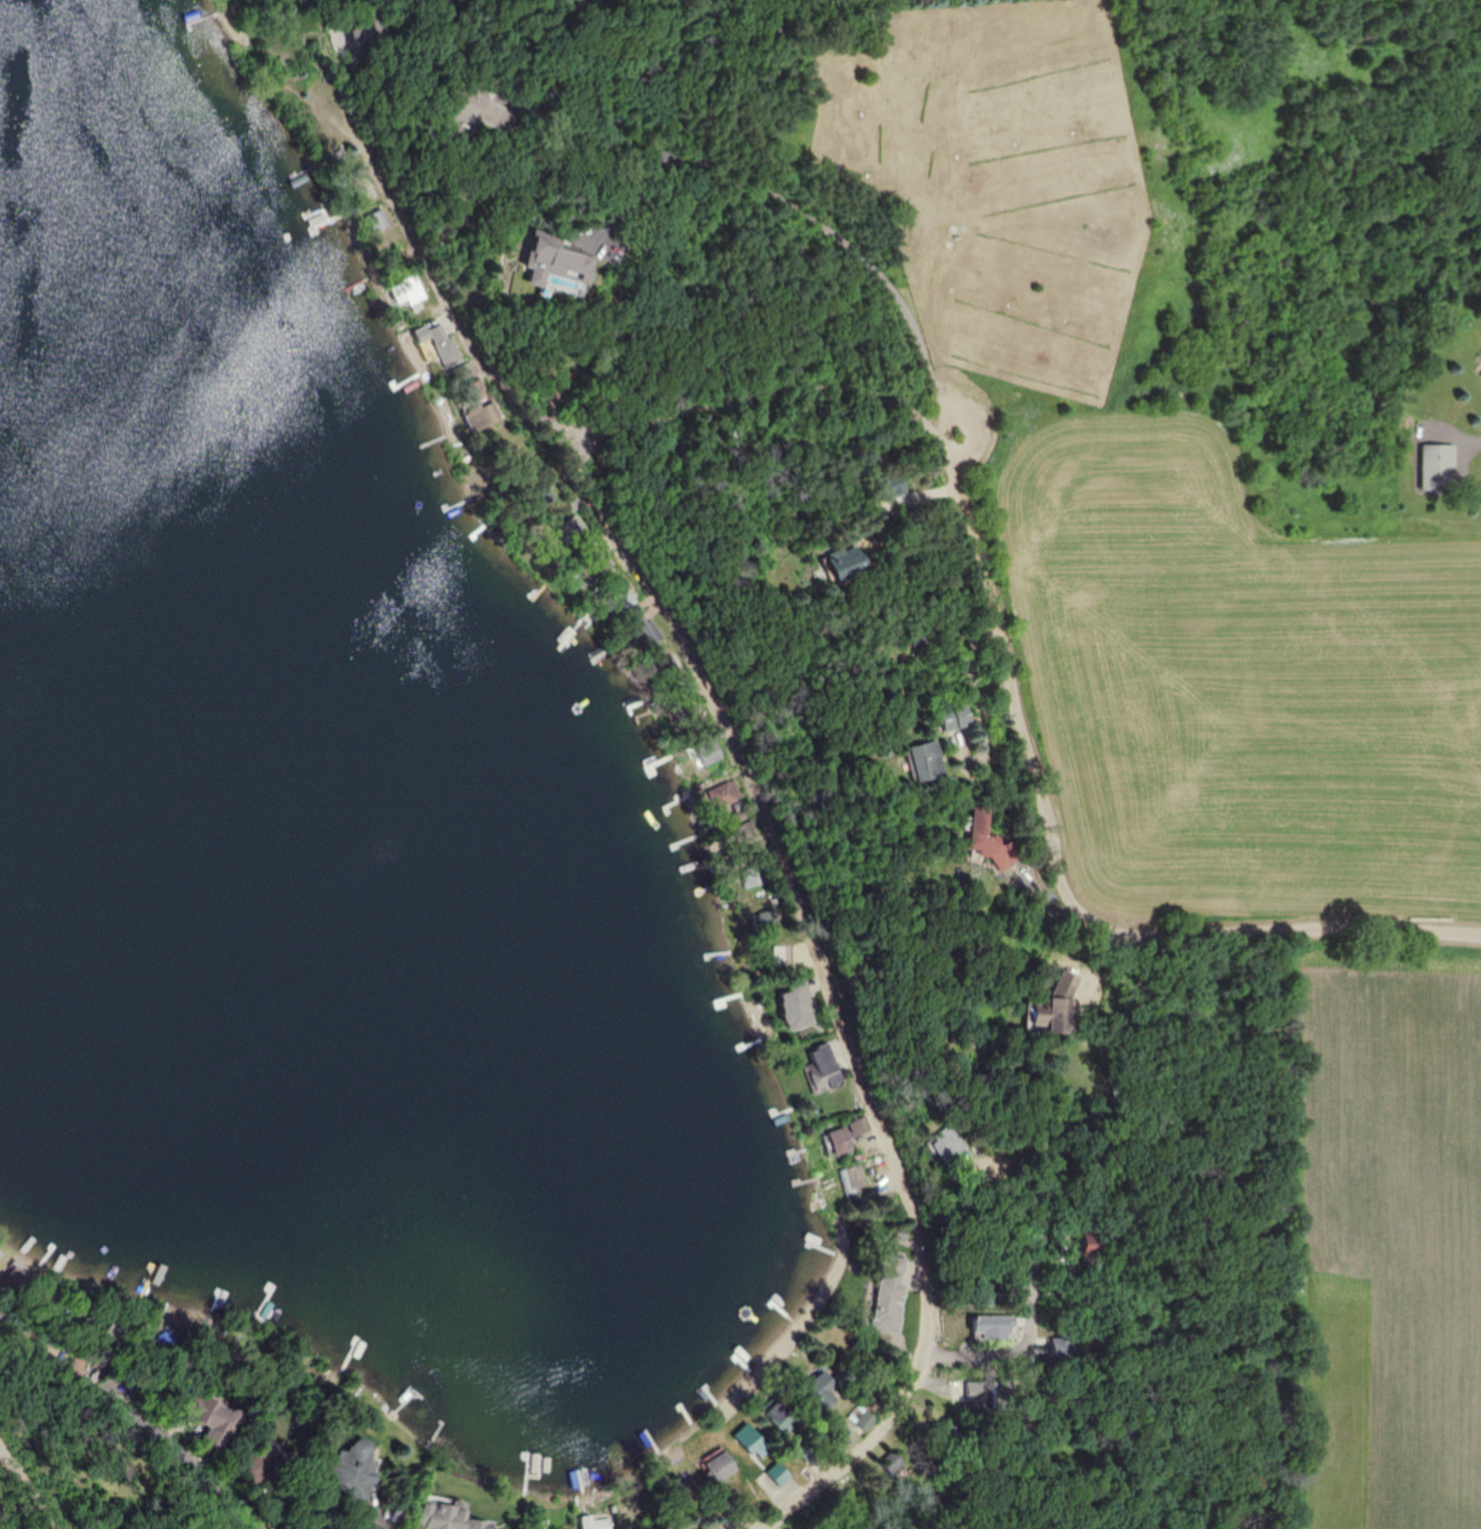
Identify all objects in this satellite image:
road: (322, 14)
building: (369, 24)
building: (490, 108)
building: (377, 219)
road: (817, 219)
building: (559, 262)
building: (409, 290)
road: (760, 395)
building: (486, 414)
building: (1438, 465)
building: (895, 485)
building: (574, 528)
building: (849, 562)
building: (596, 565)
building: (625, 599)
building: (648, 634)
building: (672, 672)
building: (958, 716)
building: (687, 717)
building: (711, 753)
building: (928, 760)
building: (726, 794)
road: (771, 816)
building: (747, 831)
building: (991, 839)
road: (1059, 870)
building: (754, 876)
building: (766, 919)
building: (796, 984)
building: (1058, 1006)
building: (823, 1069)
building: (859, 1126)
building: (841, 1140)
building: (949, 1143)
building: (854, 1179)
building: (1100, 1241)
building: (22, 1282)
road: (1042, 1297)
building: (1070, 1347)
road: (982, 1354)
building: (821, 1391)
building: (1008, 1395)
building: (778, 1415)
road: (136, 1416)
building: (861, 1418)
building: (215, 1421)
building: (750, 1438)
building: (806, 1453)
building: (895, 1463)
building: (718, 1465)
building: (779, 1473)
building: (681, 1489)
road: (32, 1490)
building: (444, 1516)
building: (596, 1523)
building: (482, 1525)
building: (799, 1527)

